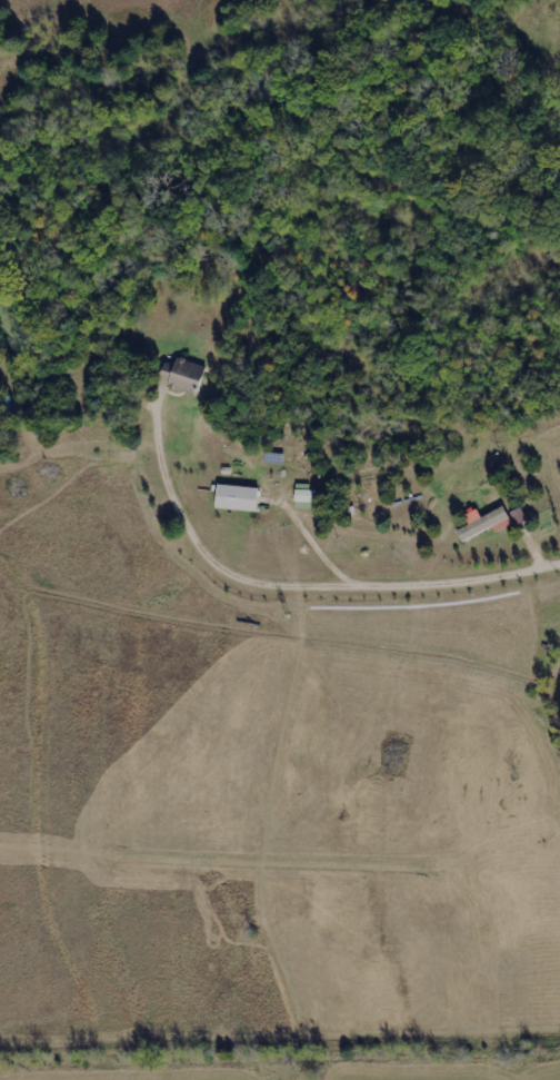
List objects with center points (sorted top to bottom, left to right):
building: (181, 376)
building: (233, 498)
building: (302, 499)
building: (516, 516)
building: (481, 524)

